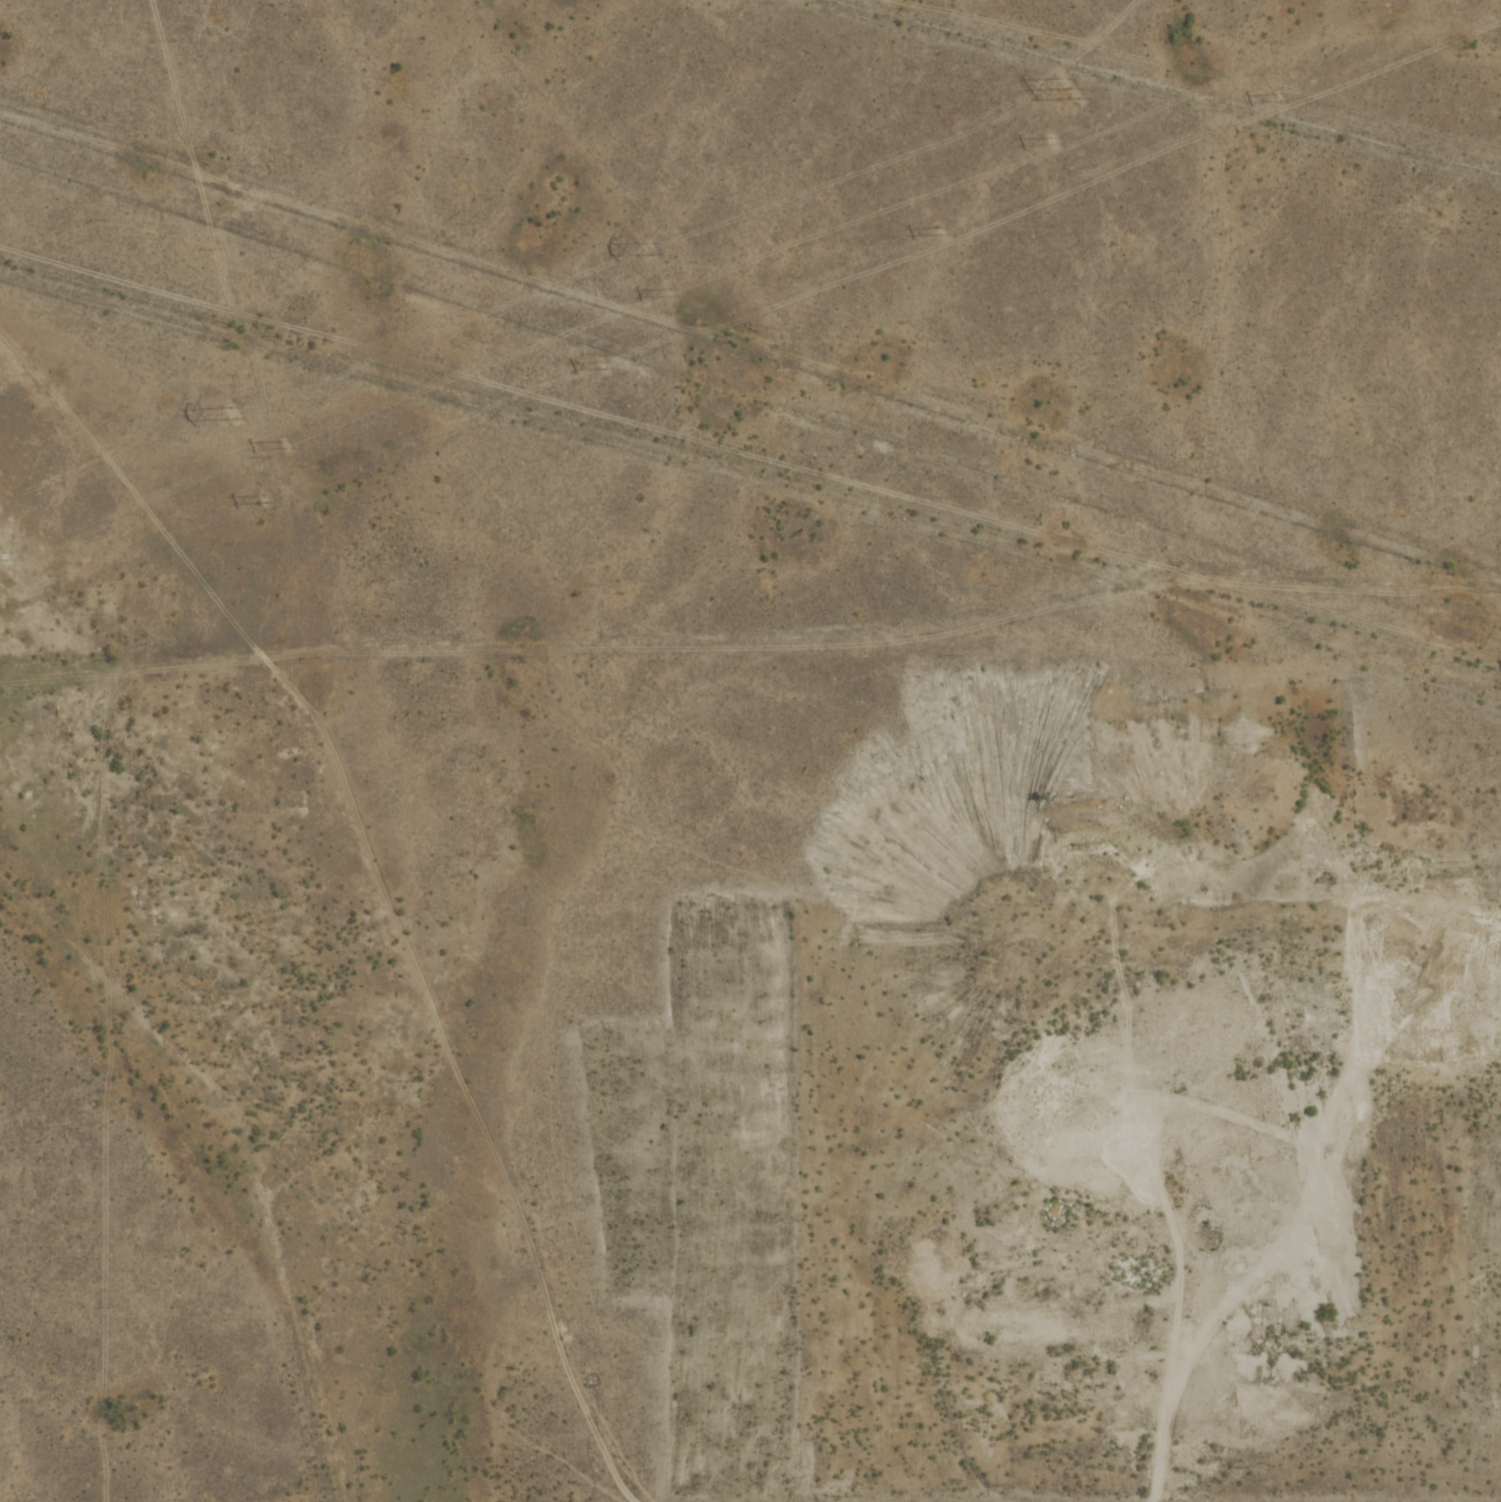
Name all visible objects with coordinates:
road: (1163, 89)
power tower: (1066, 91)
power tower: (1275, 99)
power tower: (1049, 143)
road: (117, 215)
power tower: (937, 233)
power tower: (651, 251)
power tower: (667, 293)
power tower: (600, 366)
power tower: (232, 415)
power tower: (284, 445)
power tower: (262, 501)
power tower: (2, 557)
road: (1163, 1441)

